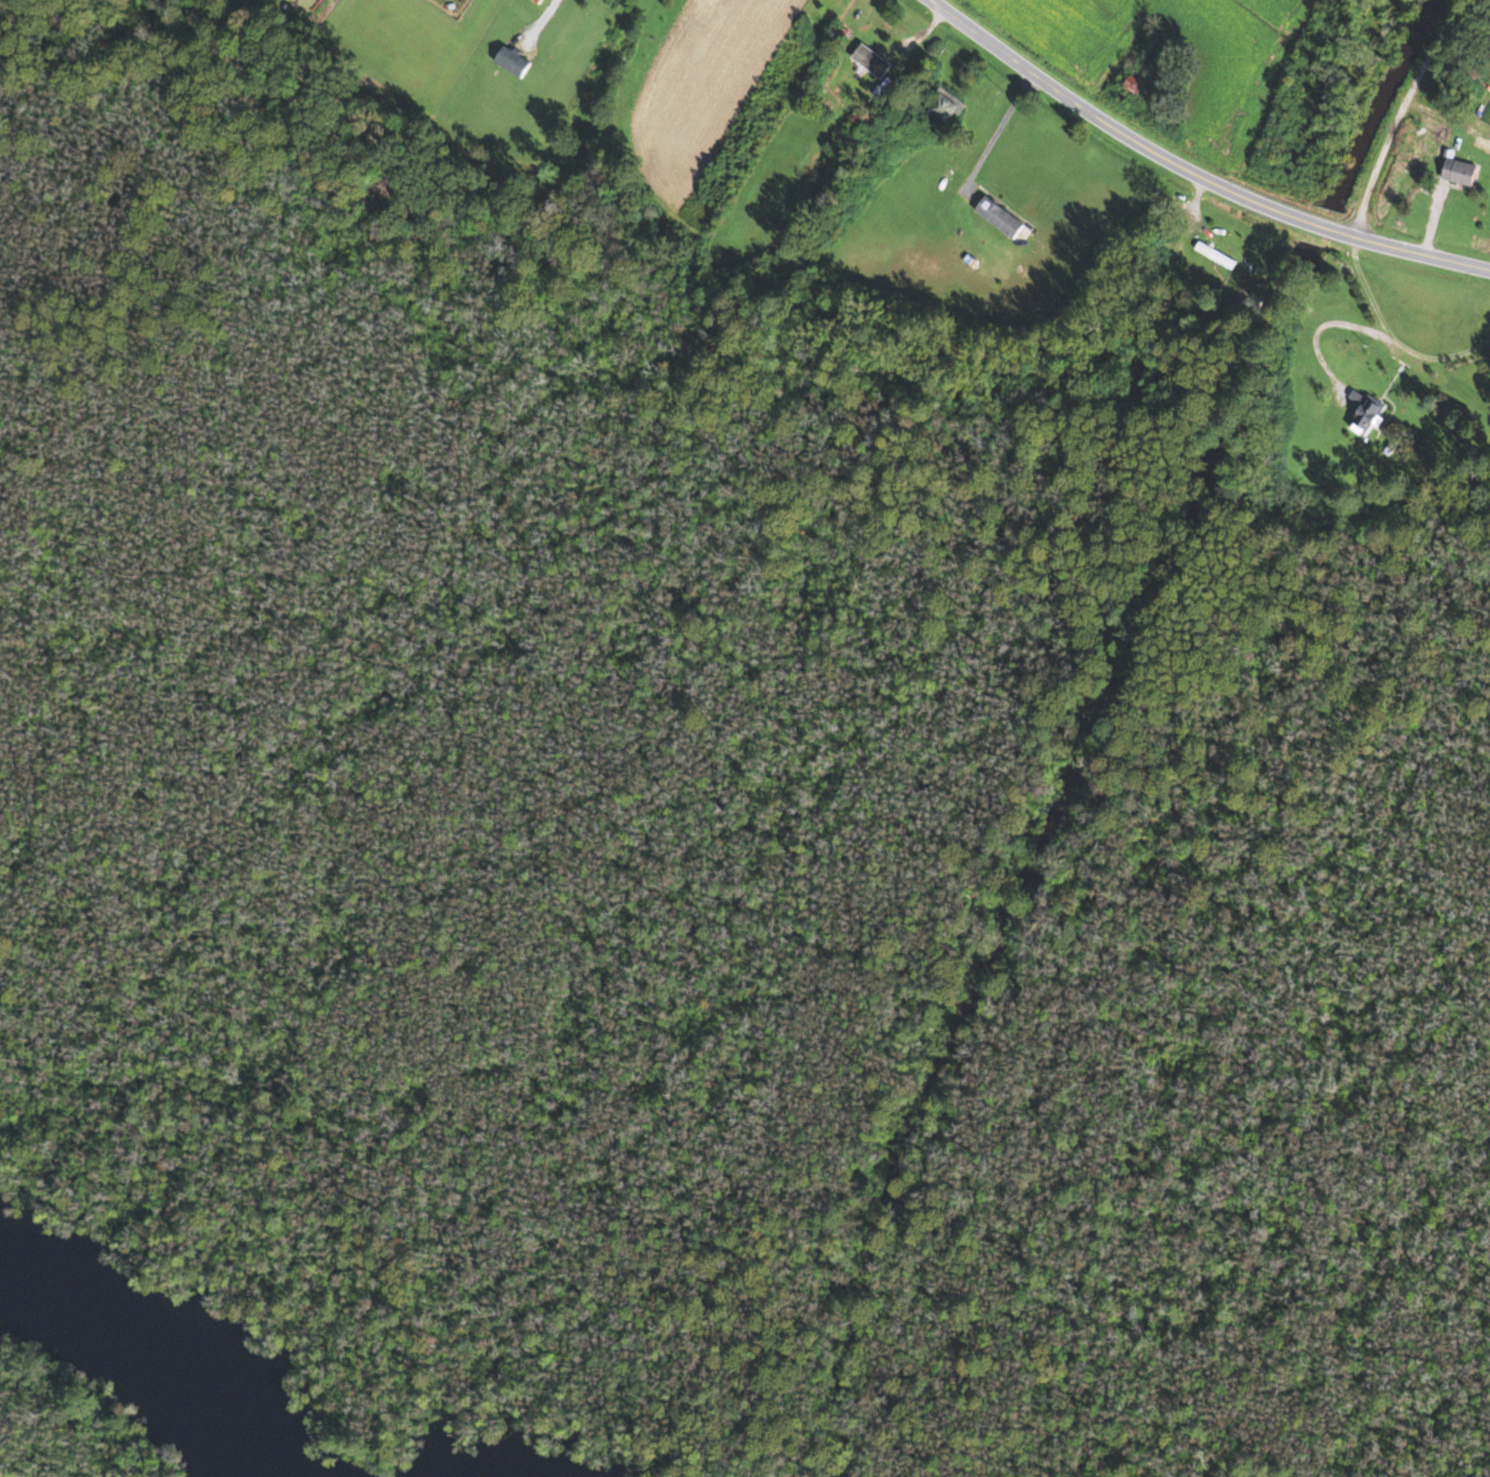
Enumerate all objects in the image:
building: (538, 1)
building: (828, 5)
road: (546, 13)
building: (839, 36)
building: (883, 36)
building: (513, 61)
building: (1139, 79)
building: (943, 112)
building: (862, 119)
road: (1401, 121)
road: (997, 132)
building: (1460, 173)
road: (1187, 177)
building: (999, 216)
building: (1215, 254)
building: (1368, 415)
river: (162, 1362)

